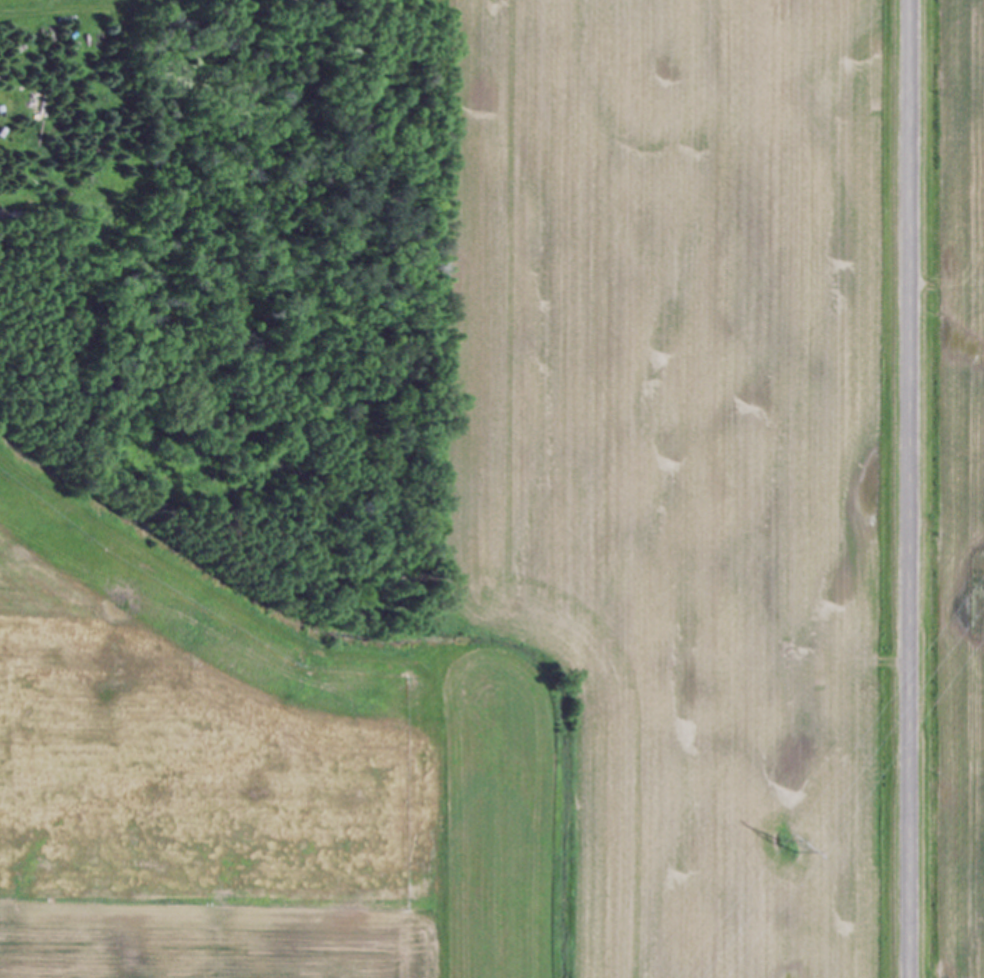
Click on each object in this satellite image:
road: (908, 489)
power tower: (793, 848)

